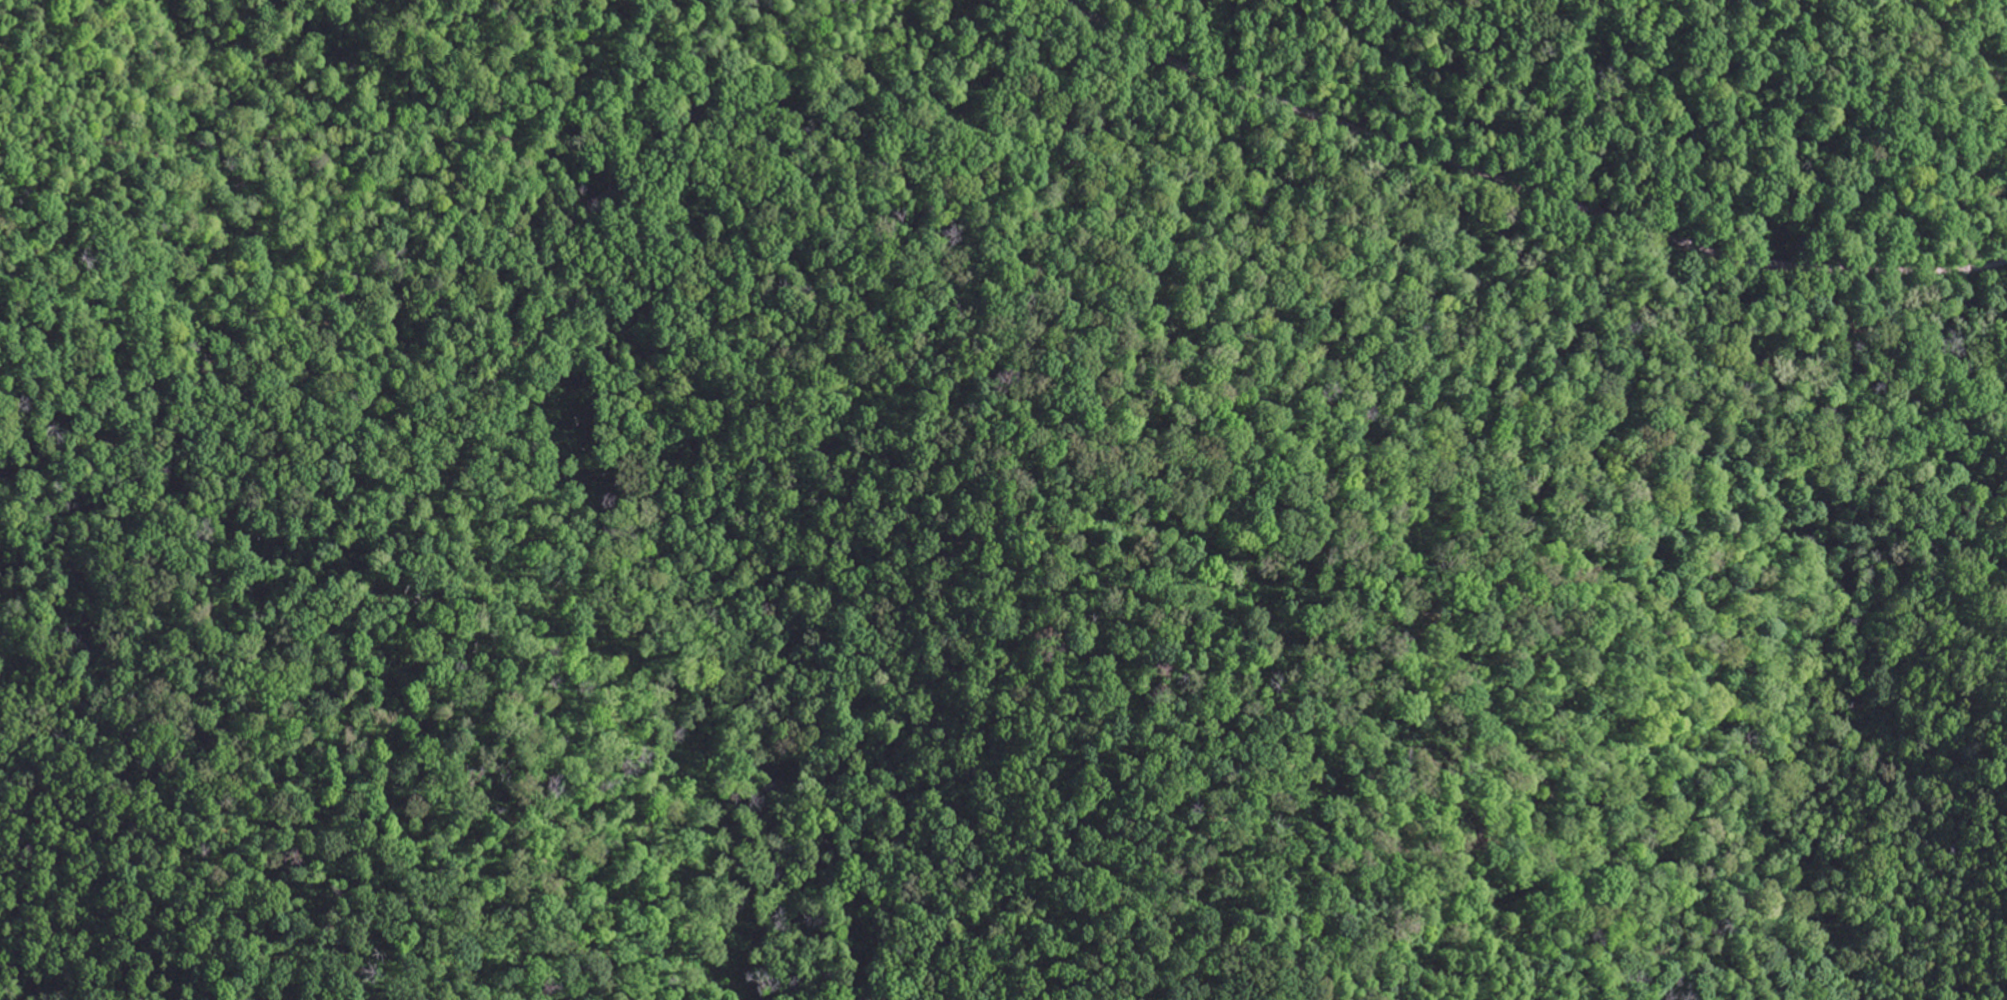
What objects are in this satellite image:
road: (1525, 187)

